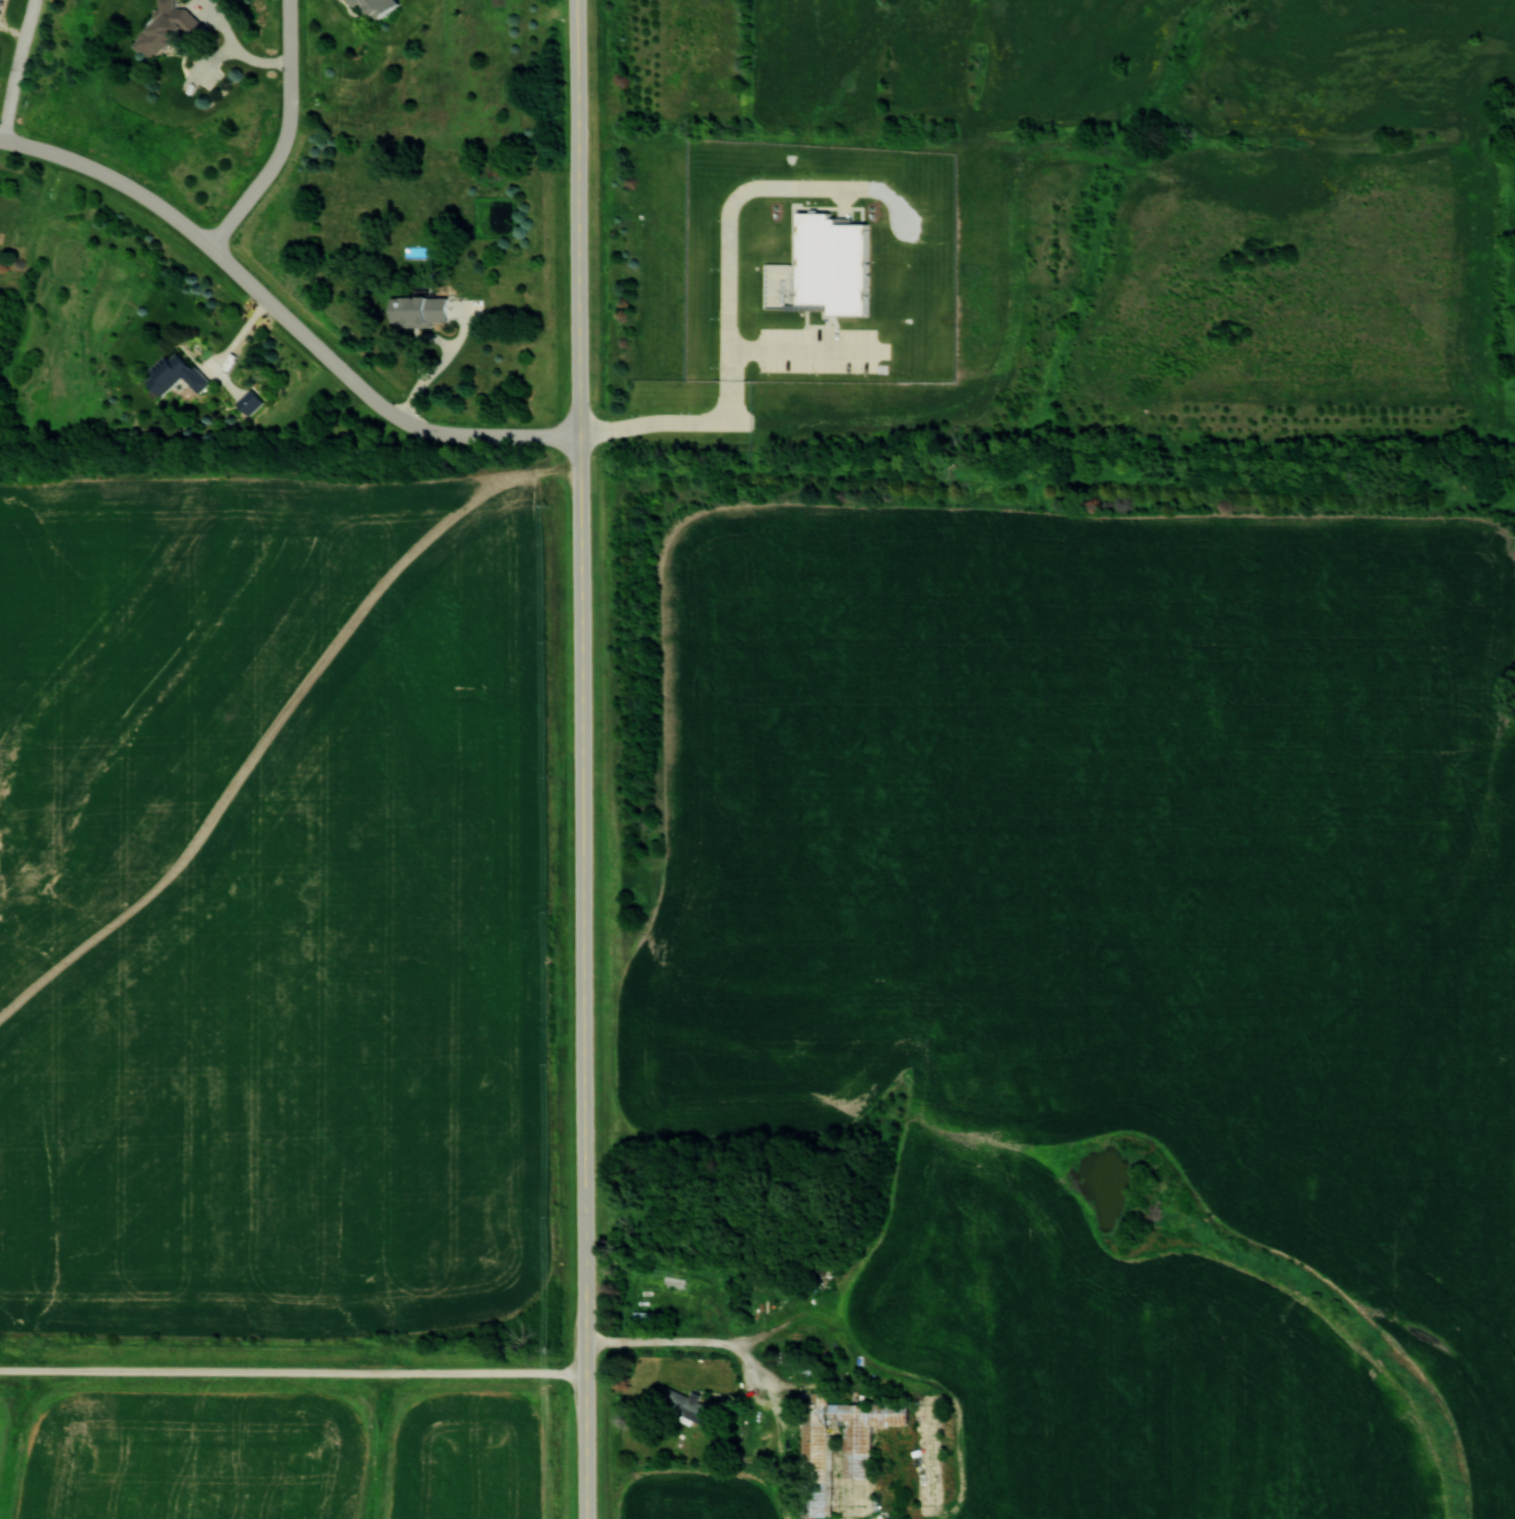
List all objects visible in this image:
building: (0, 1)
building: (373, 6)
building: (165, 30)
road: (237, 47)
road: (18, 70)
road: (287, 135)
building: (828, 261)
building: (416, 309)
road: (283, 314)
road: (729, 328)
road: (240, 330)
road: (439, 366)
building: (173, 374)
building: (247, 401)
road: (582, 759)
building: (647, 1315)
road: (692, 1342)
road: (292, 1371)
building: (682, 1405)
building: (837, 1448)

